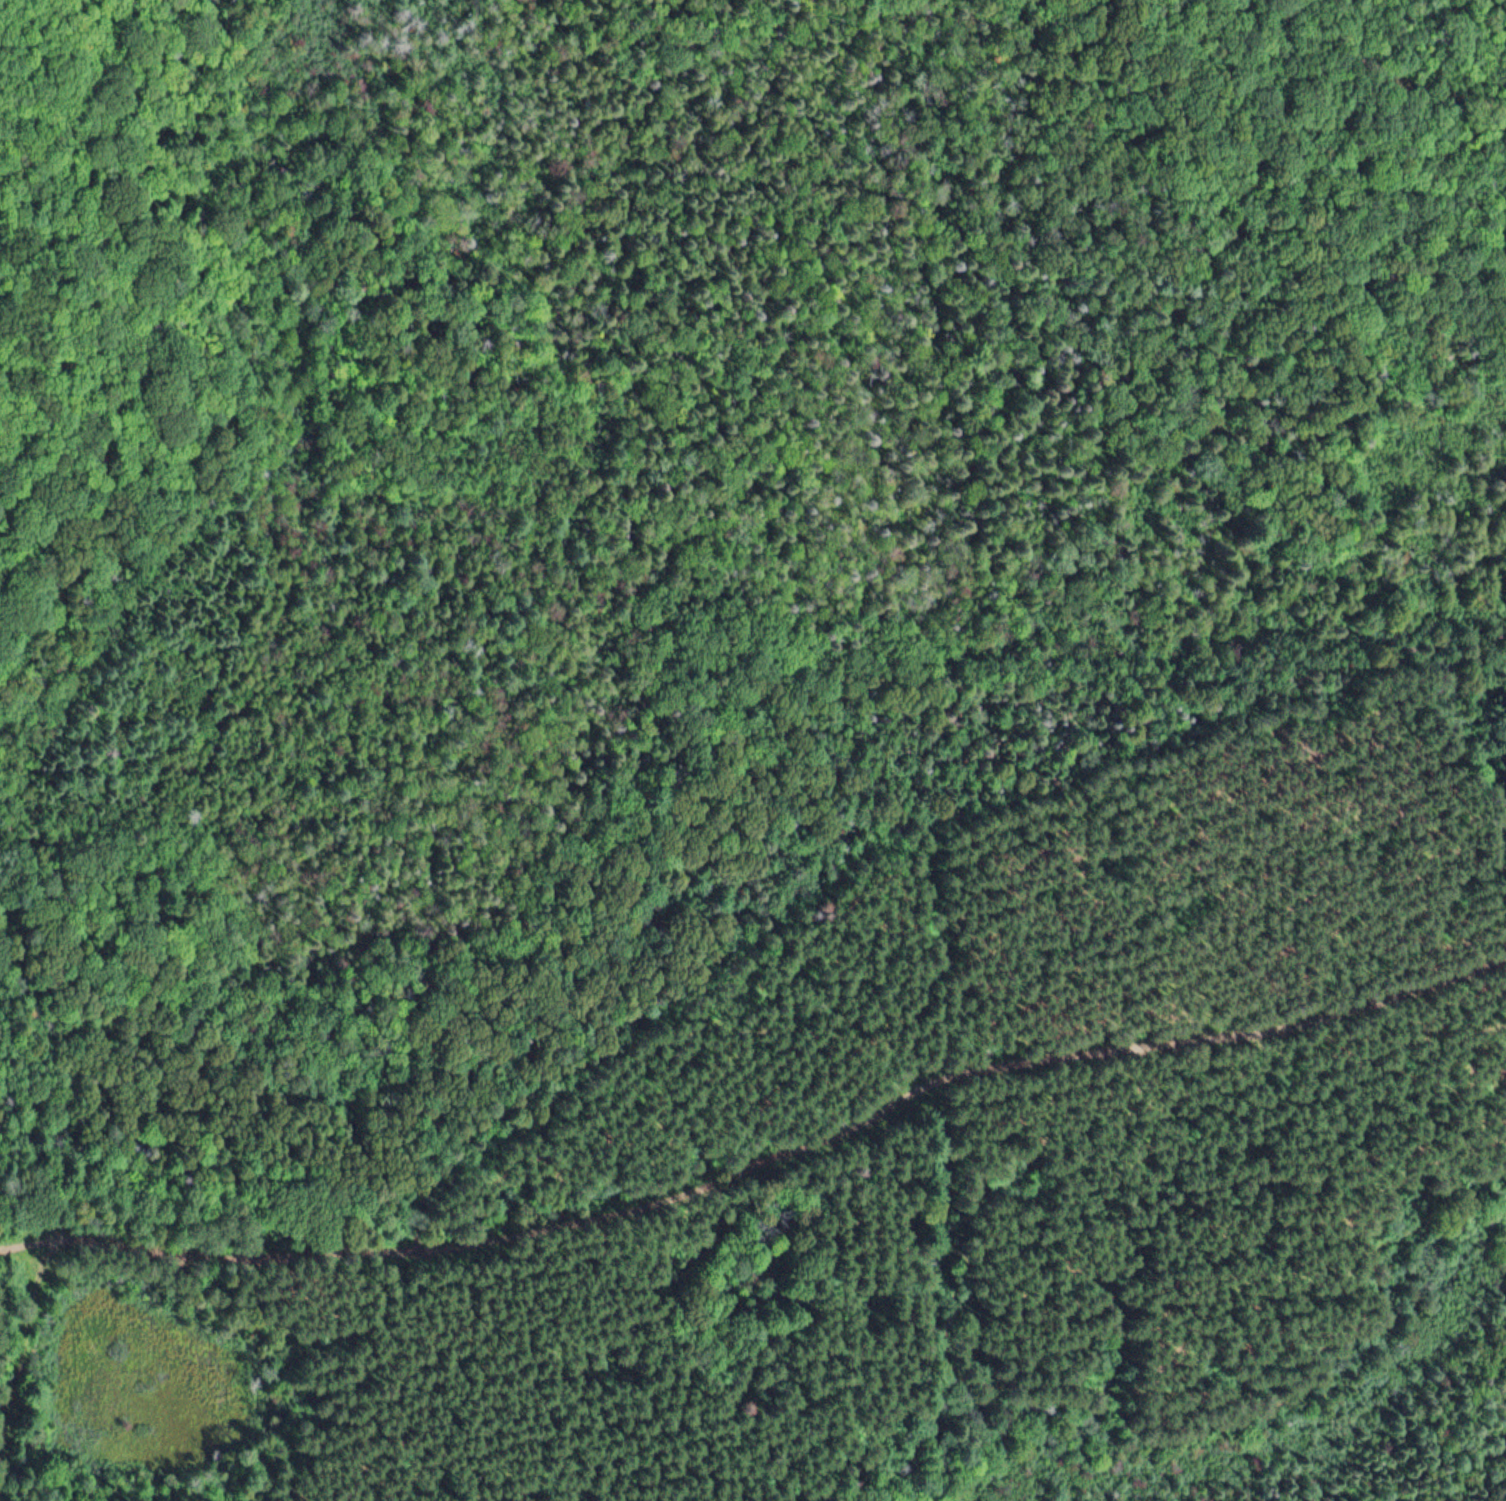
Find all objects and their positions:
road: (1268, 1134)
road: (662, 1196)
road: (23, 1243)
road: (738, 1353)

